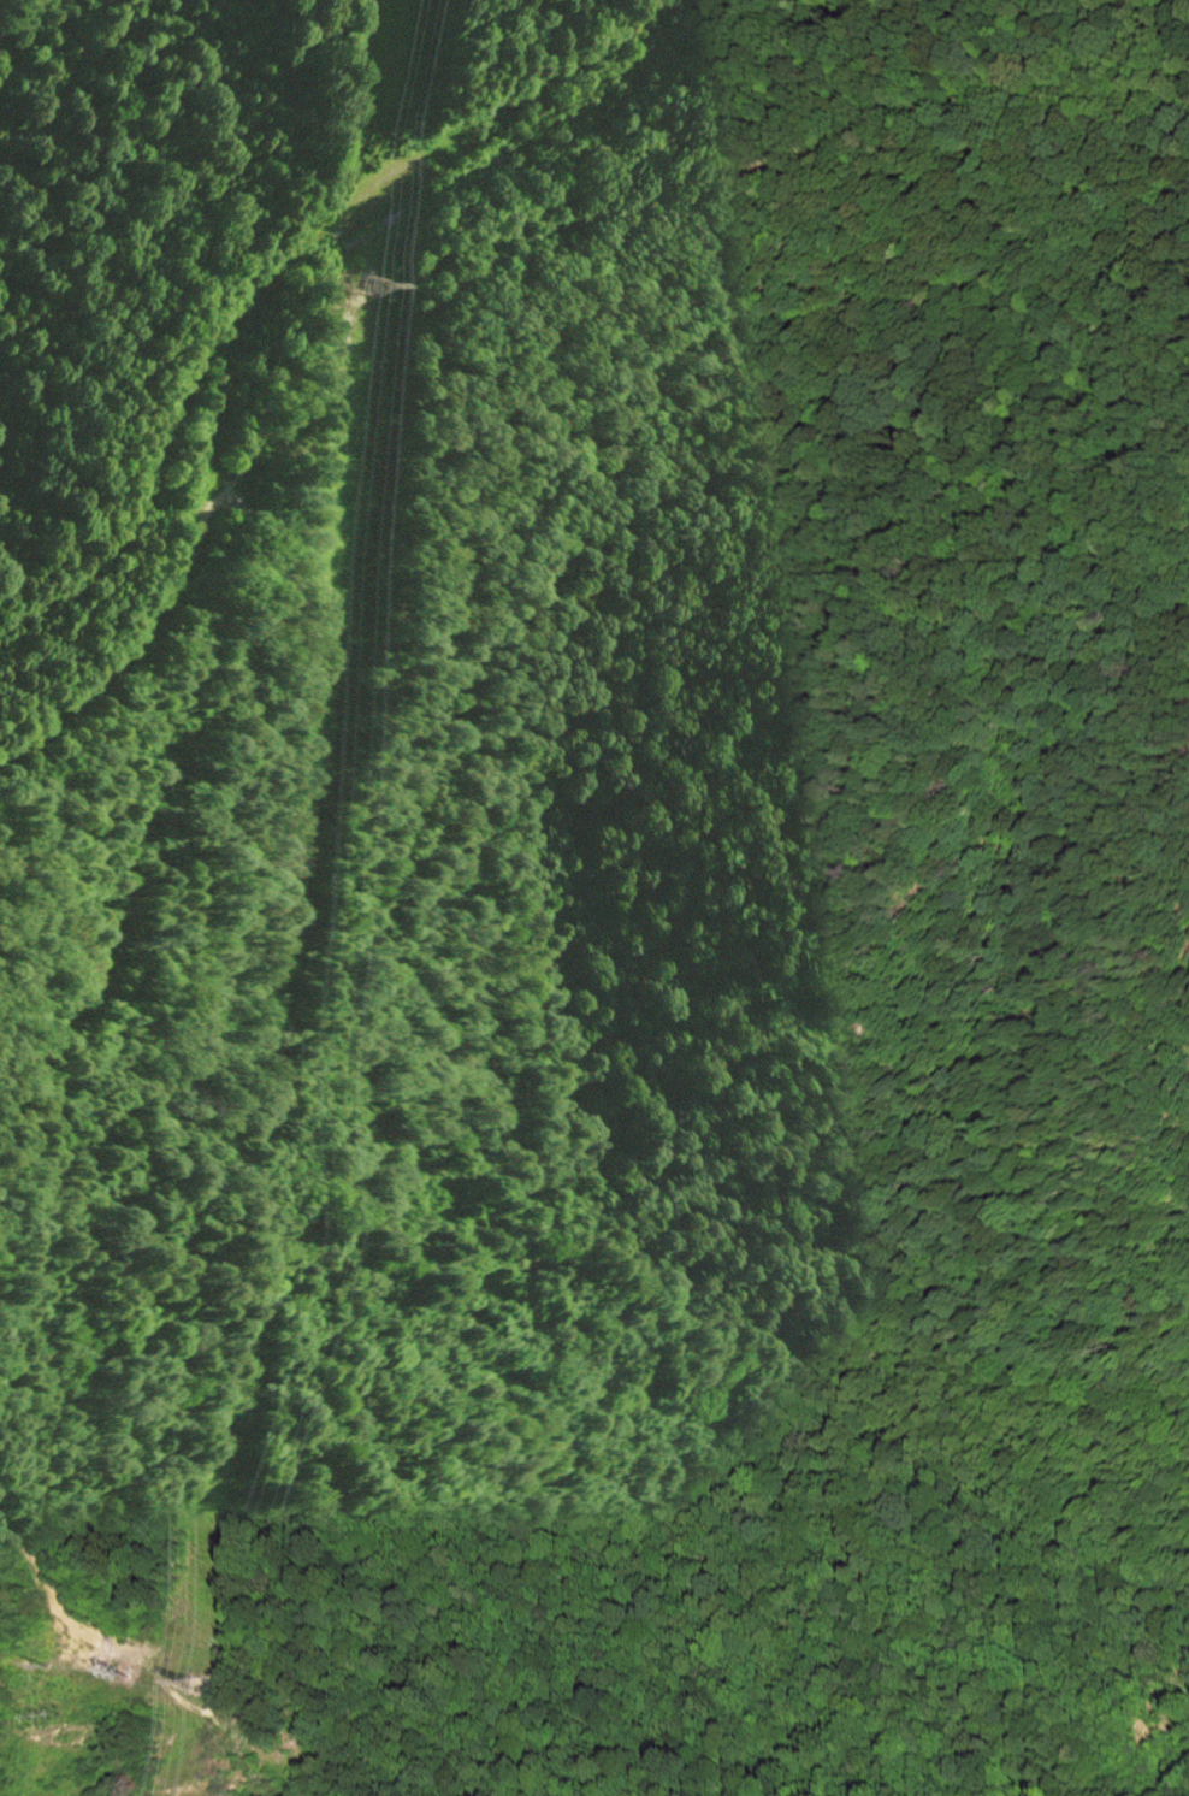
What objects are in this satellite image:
power tower: (371, 286)
power tower: (47, 1665)
power tower: (123, 1670)
power tower: (205, 1684)

